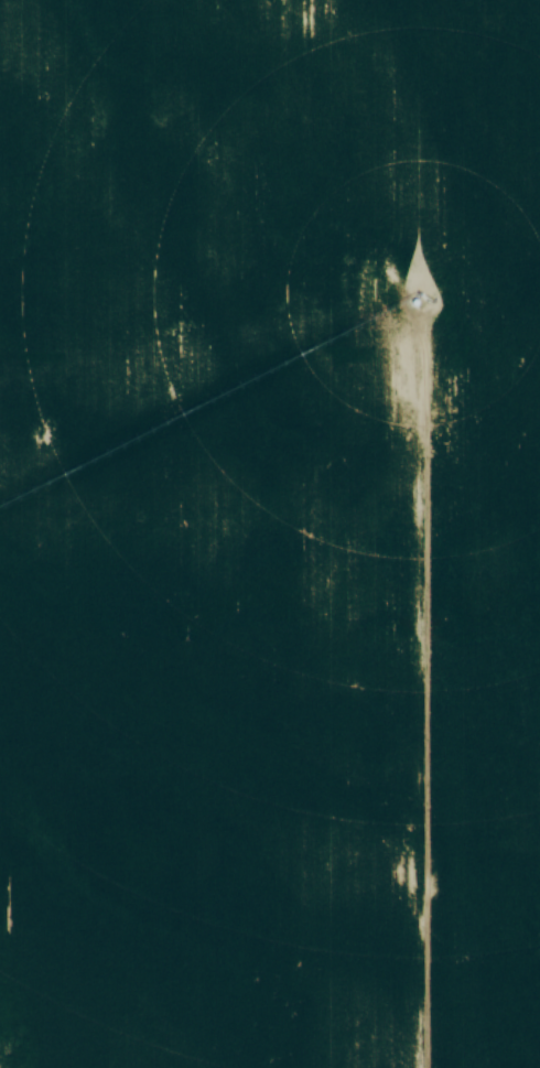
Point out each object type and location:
crop: (270, 533)

